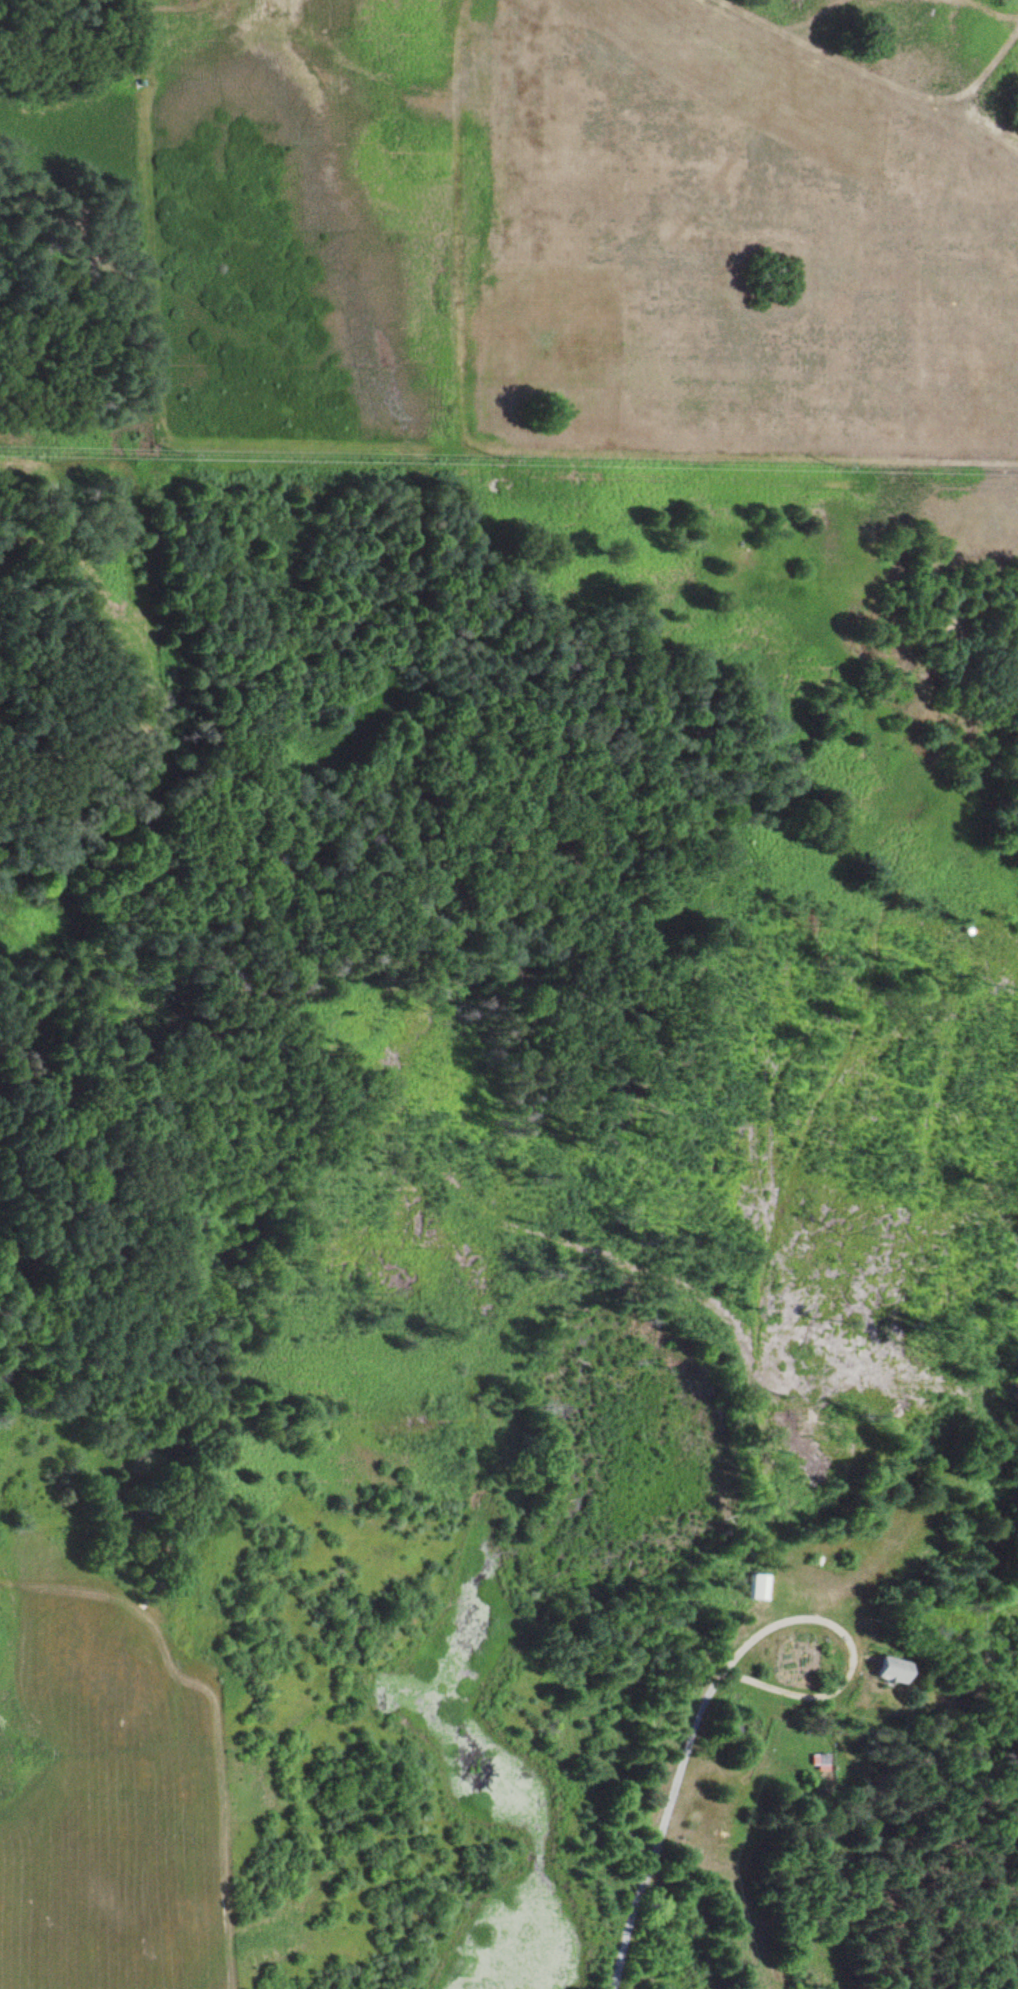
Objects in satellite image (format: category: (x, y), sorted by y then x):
building: (755, 1587)
road: (851, 1649)
building: (889, 1670)
road: (659, 1827)

